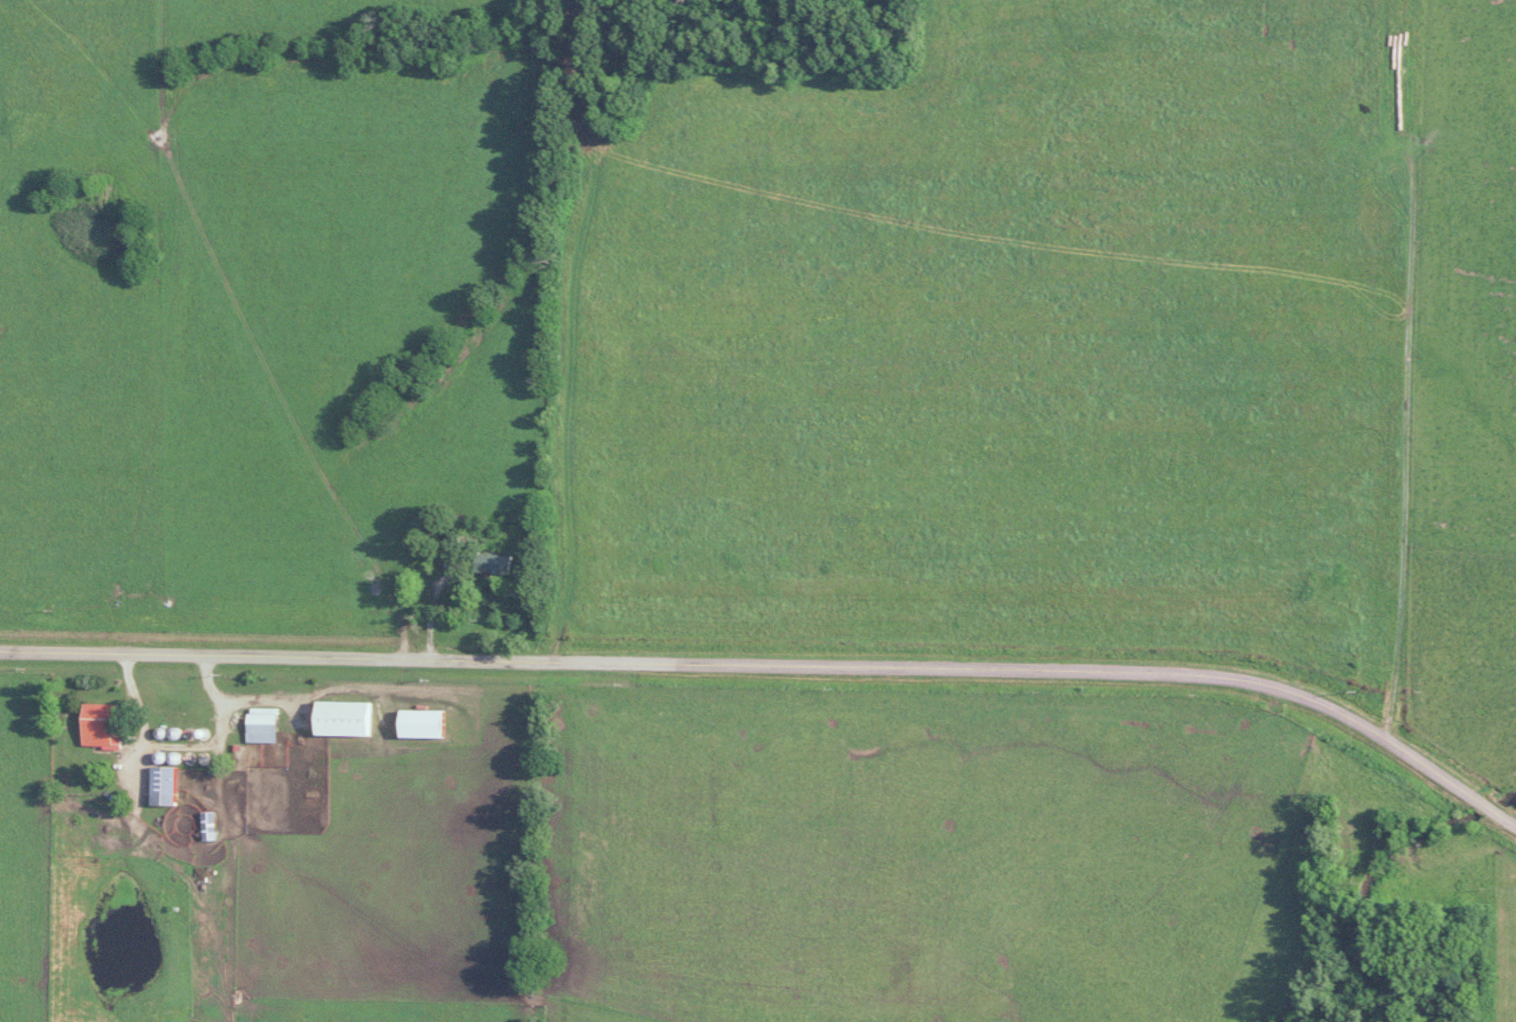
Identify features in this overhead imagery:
building: (489, 563)
road: (429, 603)
road: (777, 665)
building: (339, 718)
building: (93, 724)
building: (257, 727)
road: (174, 746)
building: (158, 785)
building: (204, 825)

